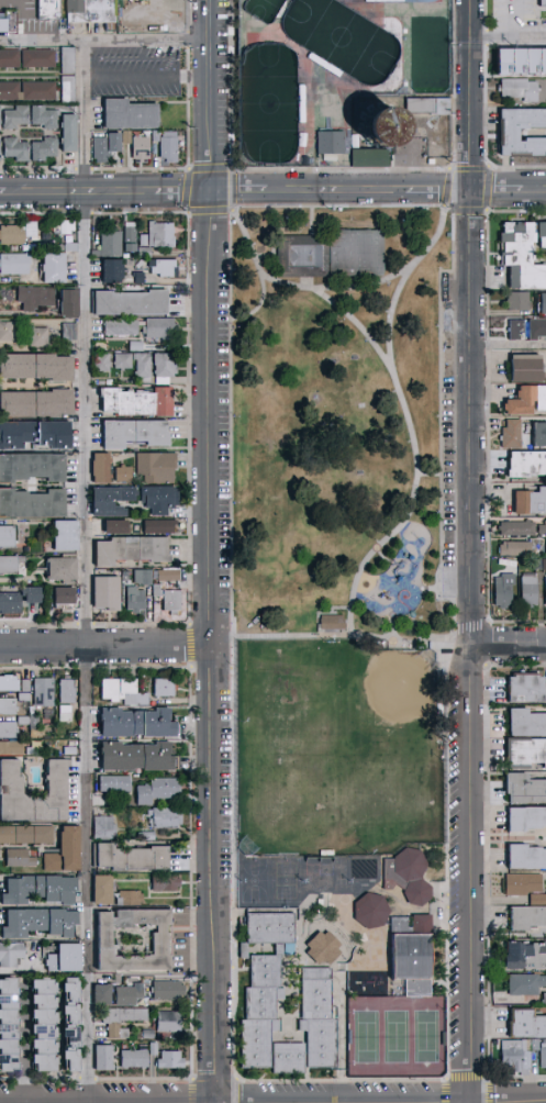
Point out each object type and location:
building: (385, 1)
building: (419, 1)
building: (433, 1)
building: (541, 1)
building: (543, 3)
building: (51, 9)
park: (261, 9)
building: (93, 11)
building: (134, 13)
building: (163, 13)
road: (516, 19)
building: (377, 20)
building: (4, 23)
building: (152, 31)
road: (43, 38)
park: (339, 38)
road: (509, 38)
building: (11, 59)
building: (41, 59)
building: (70, 62)
building: (522, 63)
building: (325, 65)
road: (151, 74)
building: (303, 77)
building: (349, 81)
building: (520, 89)
building: (69, 90)
building: (29, 91)
building: (327, 102)
building: (341, 102)
park: (268, 103)
building: (302, 103)
building: (430, 107)
building: (132, 115)
building: (1, 116)
building: (18, 118)
building: (46, 118)
water tower: (380, 125)
building: (383, 129)
building: (523, 133)
building: (71, 134)
building: (157, 136)
building: (129, 138)
building: (303, 138)
building: (357, 142)
building: (331, 143)
building: (108, 147)
building: (171, 147)
building: (143, 148)
building: (18, 149)
building: (46, 149)
building: (1, 153)
building: (364, 157)
building: (331, 158)
road: (272, 193)
road: (310, 220)
building: (68, 226)
building: (18, 233)
building: (163, 234)
building: (131, 238)
building: (145, 241)
building: (111, 243)
building: (73, 247)
building: (146, 252)
building: (328, 254)
building: (524, 256)
building: (15, 264)
building: (55, 267)
building: (165, 267)
building: (113, 270)
building: (141, 278)
road: (307, 281)
road: (332, 286)
building: (36, 298)
building: (69, 301)
building: (132, 302)
building: (520, 302)
road: (256, 305)
building: (543, 305)
building: (144, 328)
building: (8, 331)
building: (70, 331)
building: (519, 331)
building: (538, 331)
building: (40, 337)
building: (138, 346)
building: (125, 360)
building: (103, 363)
road: (387, 364)
building: (37, 366)
building: (167, 367)
building: (144, 369)
building: (528, 370)
building: (138, 401)
building: (37, 402)
building: (527, 402)
park: (335, 419)
parking lot: (222, 420)
building: (136, 433)
building: (35, 434)
building: (513, 435)
building: (541, 436)
parking lot: (447, 448)
building: (32, 466)
building: (527, 466)
building: (102, 467)
building: (158, 467)
building: (125, 473)
building: (161, 499)
building: (112, 500)
building: (33, 503)
building: (532, 503)
road: (88, 506)
building: (116, 526)
building: (160, 526)
road: (404, 527)
building: (520, 530)
building: (543, 531)
building: (67, 535)
building: (8, 537)
building: (133, 549)
building: (517, 549)
road: (472, 550)
road: (208, 551)
road: (368, 554)
building: (11, 565)
building: (539, 565)
building: (64, 569)
building: (169, 575)
building: (145, 577)
road: (358, 581)
road: (433, 587)
building: (505, 591)
building: (531, 591)
building: (544, 591)
building: (109, 592)
building: (33, 594)
building: (66, 598)
building: (137, 600)
building: (170, 600)
building: (11, 603)
road: (317, 608)
building: (328, 621)
road: (469, 623)
road: (388, 628)
road: (405, 640)
road: (510, 644)
road: (103, 648)
building: (10, 683)
building: (26, 686)
building: (167, 688)
road: (232, 688)
building: (527, 688)
building: (68, 691)
building: (125, 692)
building: (45, 693)
building: (25, 698)
building: (9, 706)
building: (67, 714)
building: (31, 722)
building: (138, 723)
building: (527, 723)
building: (9, 731)
building: (12, 748)
building: (71, 751)
building: (525, 753)
building: (140, 757)
parking lot: (223, 781)
building: (116, 784)
building: (525, 789)
building: (12, 790)
building: (159, 791)
building: (167, 818)
building: (526, 820)
building: (105, 828)
building: (27, 835)
building: (149, 836)
building: (67, 853)
building: (526, 857)
building: (134, 858)
building: (21, 859)
parking lot: (453, 868)
building: (409, 876)
park: (254, 881)
park: (285, 881)
building: (161, 882)
building: (522, 884)
building: (41, 890)
building: (104, 890)
building: (131, 899)
building: (538, 900)
building: (372, 911)
building: (527, 918)
building: (40, 923)
building: (272, 931)
building: (161, 942)
building: (325, 949)
building: (280, 950)
building: (244, 951)
building: (12, 955)
building: (412, 957)
building: (525, 957)
building: (67, 959)
building: (526, 984)
building: (169, 991)
building: (104, 995)
building: (133, 996)
building: (544, 1001)
building: (261, 1012)
building: (320, 1018)
building: (123, 1021)
building: (170, 1023)
building: (45, 1025)
building: (73, 1025)
building: (526, 1025)
building: (9, 1026)
building: (151, 1035)
park: (395, 1036)
road: (342, 1046)
building: (536, 1046)
building: (516, 1056)
building: (544, 1057)
building: (168, 1058)
building: (107, 1059)
building: (136, 1059)
building: (290, 1059)
parking lot: (290, 1085)
parking lot: (392, 1085)
road: (272, 1100)
road: (345, 1101)

